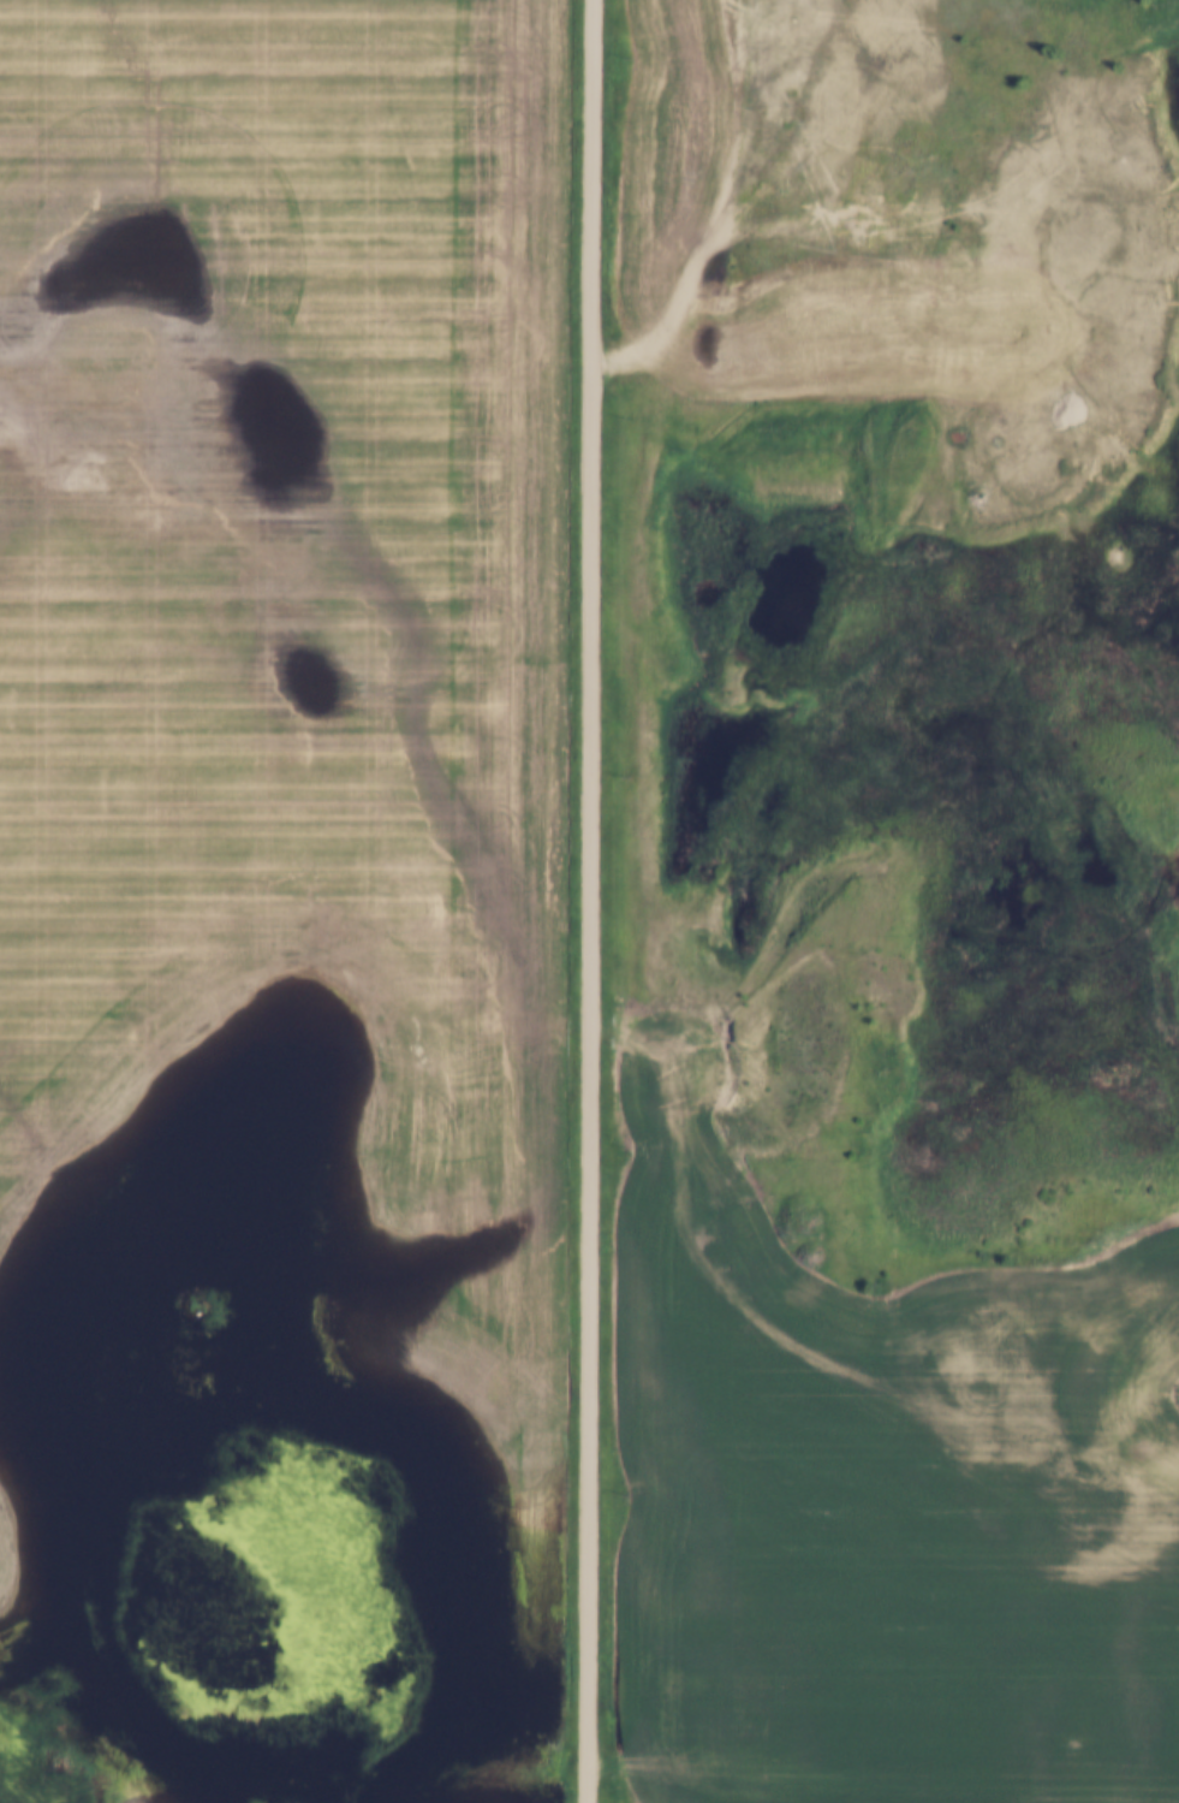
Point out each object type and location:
quarry: (941, 235)
road: (588, 901)
road: (784, 1344)

